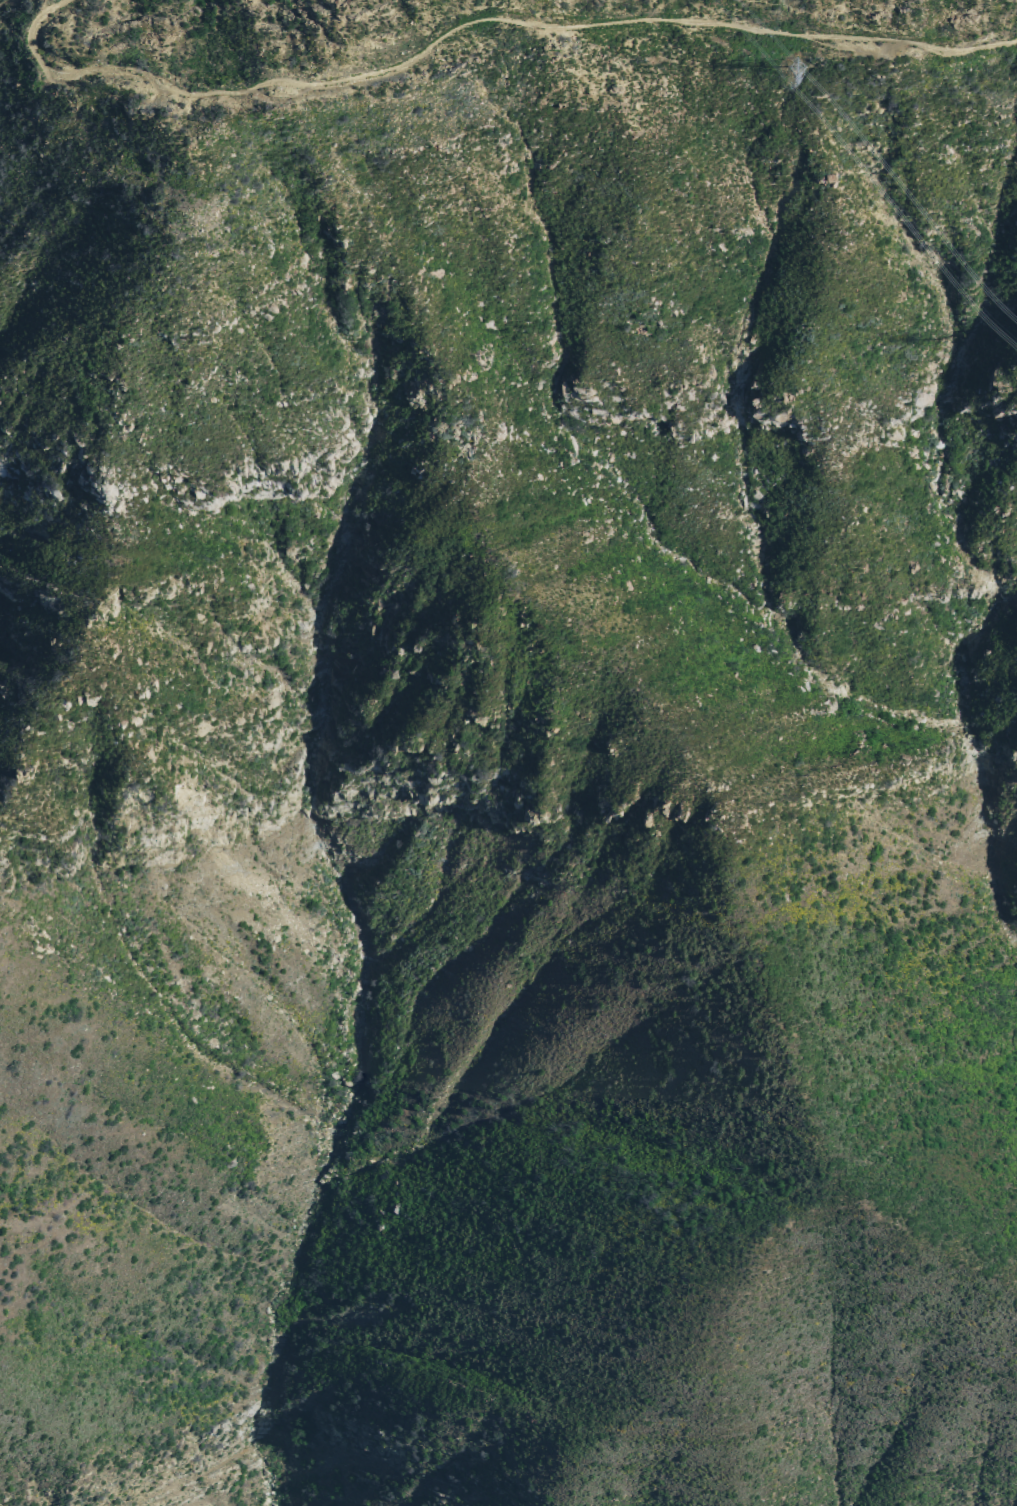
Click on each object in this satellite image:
road: (470, 23)
power tower: (785, 71)

